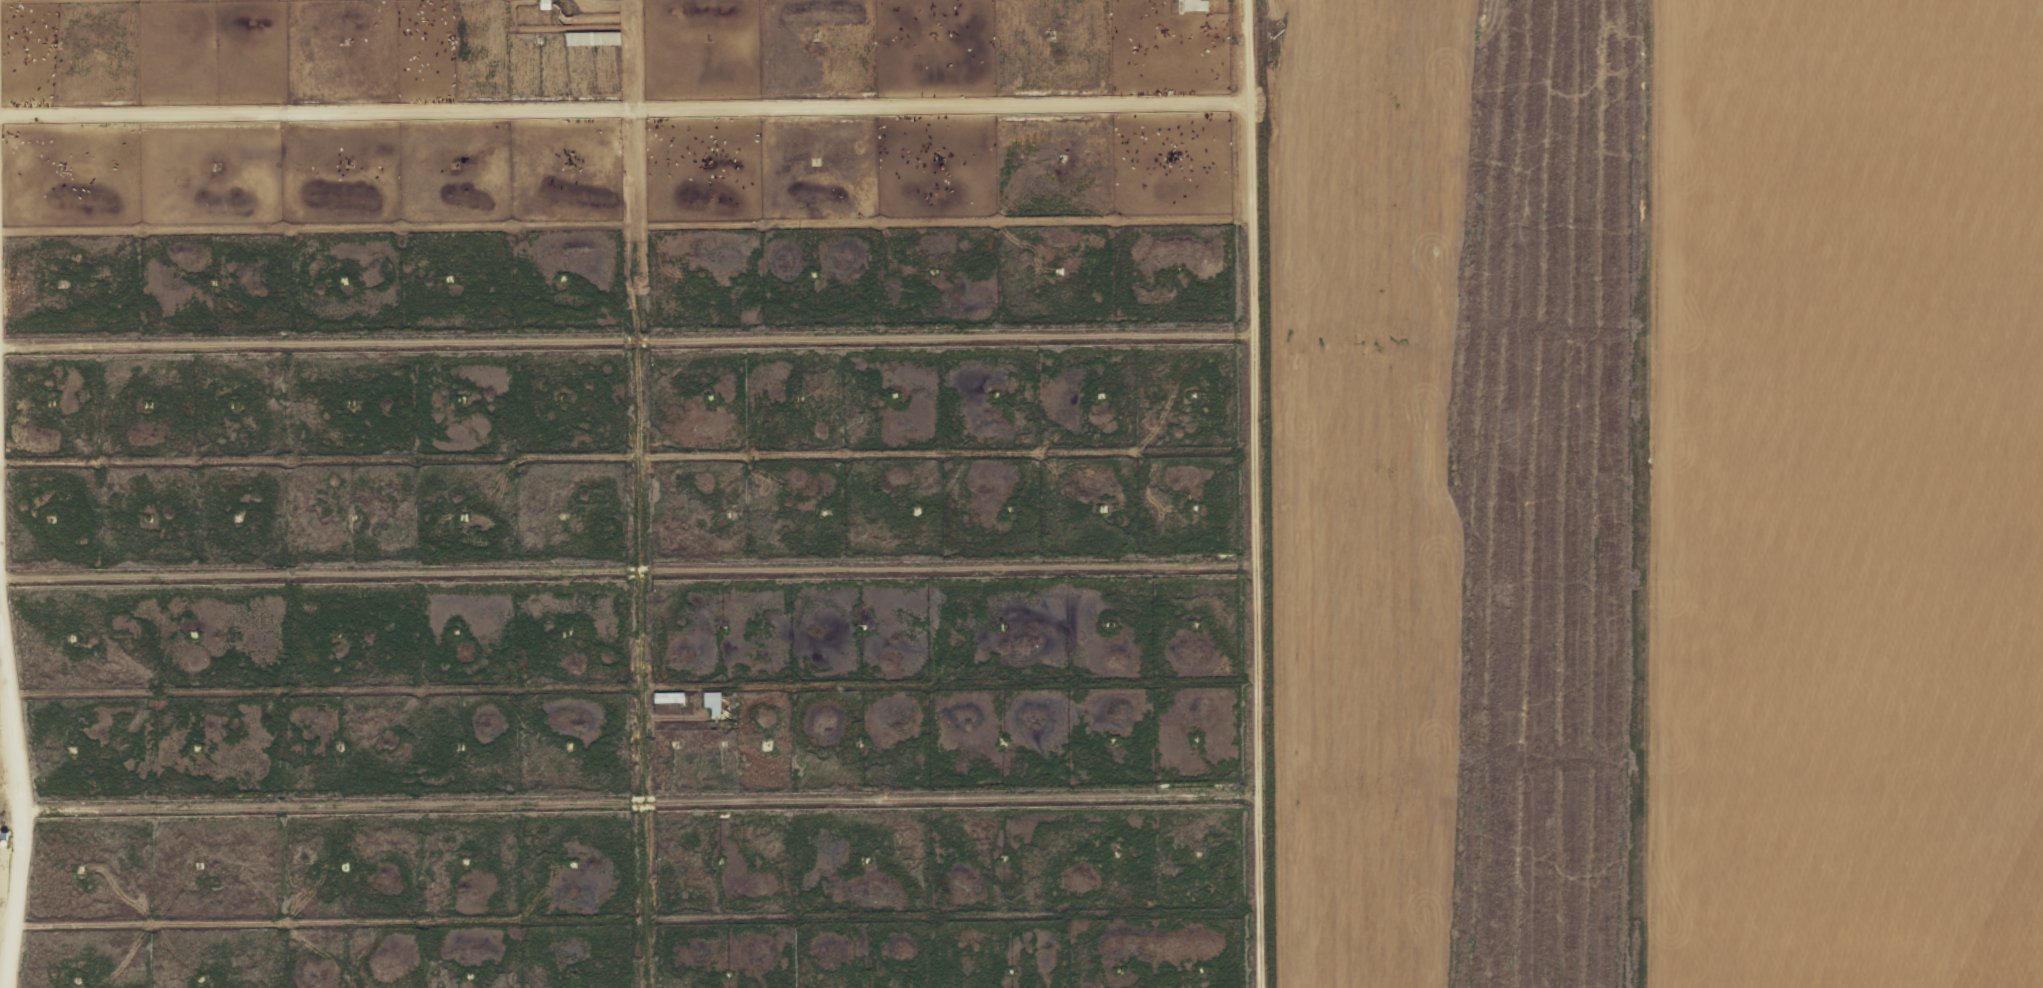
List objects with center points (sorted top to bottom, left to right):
building: (1197, 5)
building: (594, 38)
road: (637, 494)
road: (1247, 494)
building: (715, 702)
road: (17, 793)

